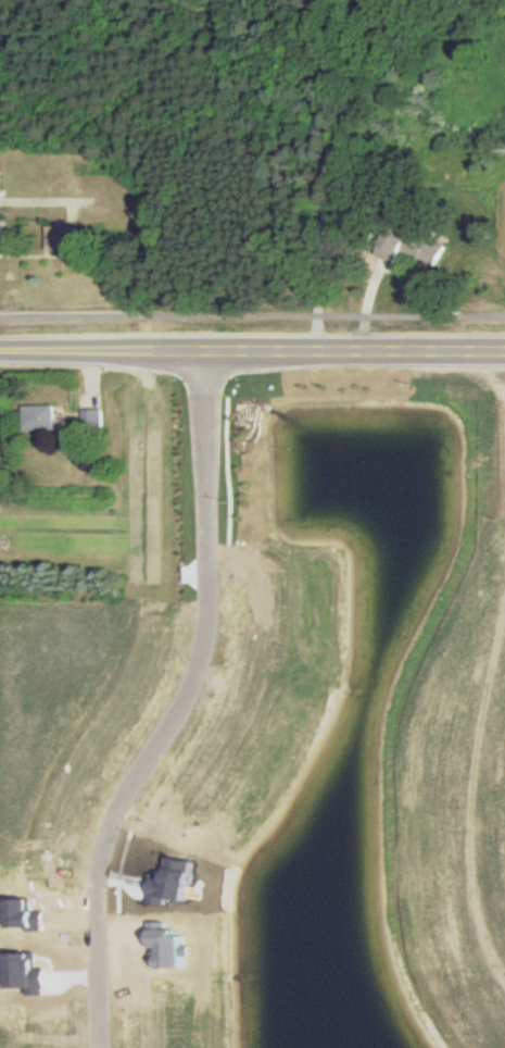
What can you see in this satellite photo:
building: (1, 184)
building: (62, 237)
building: (408, 244)
road: (252, 309)
road: (252, 349)
building: (41, 415)
building: (93, 417)
road: (180, 709)
building: (169, 881)
building: (22, 913)
building: (165, 945)
building: (24, 972)

